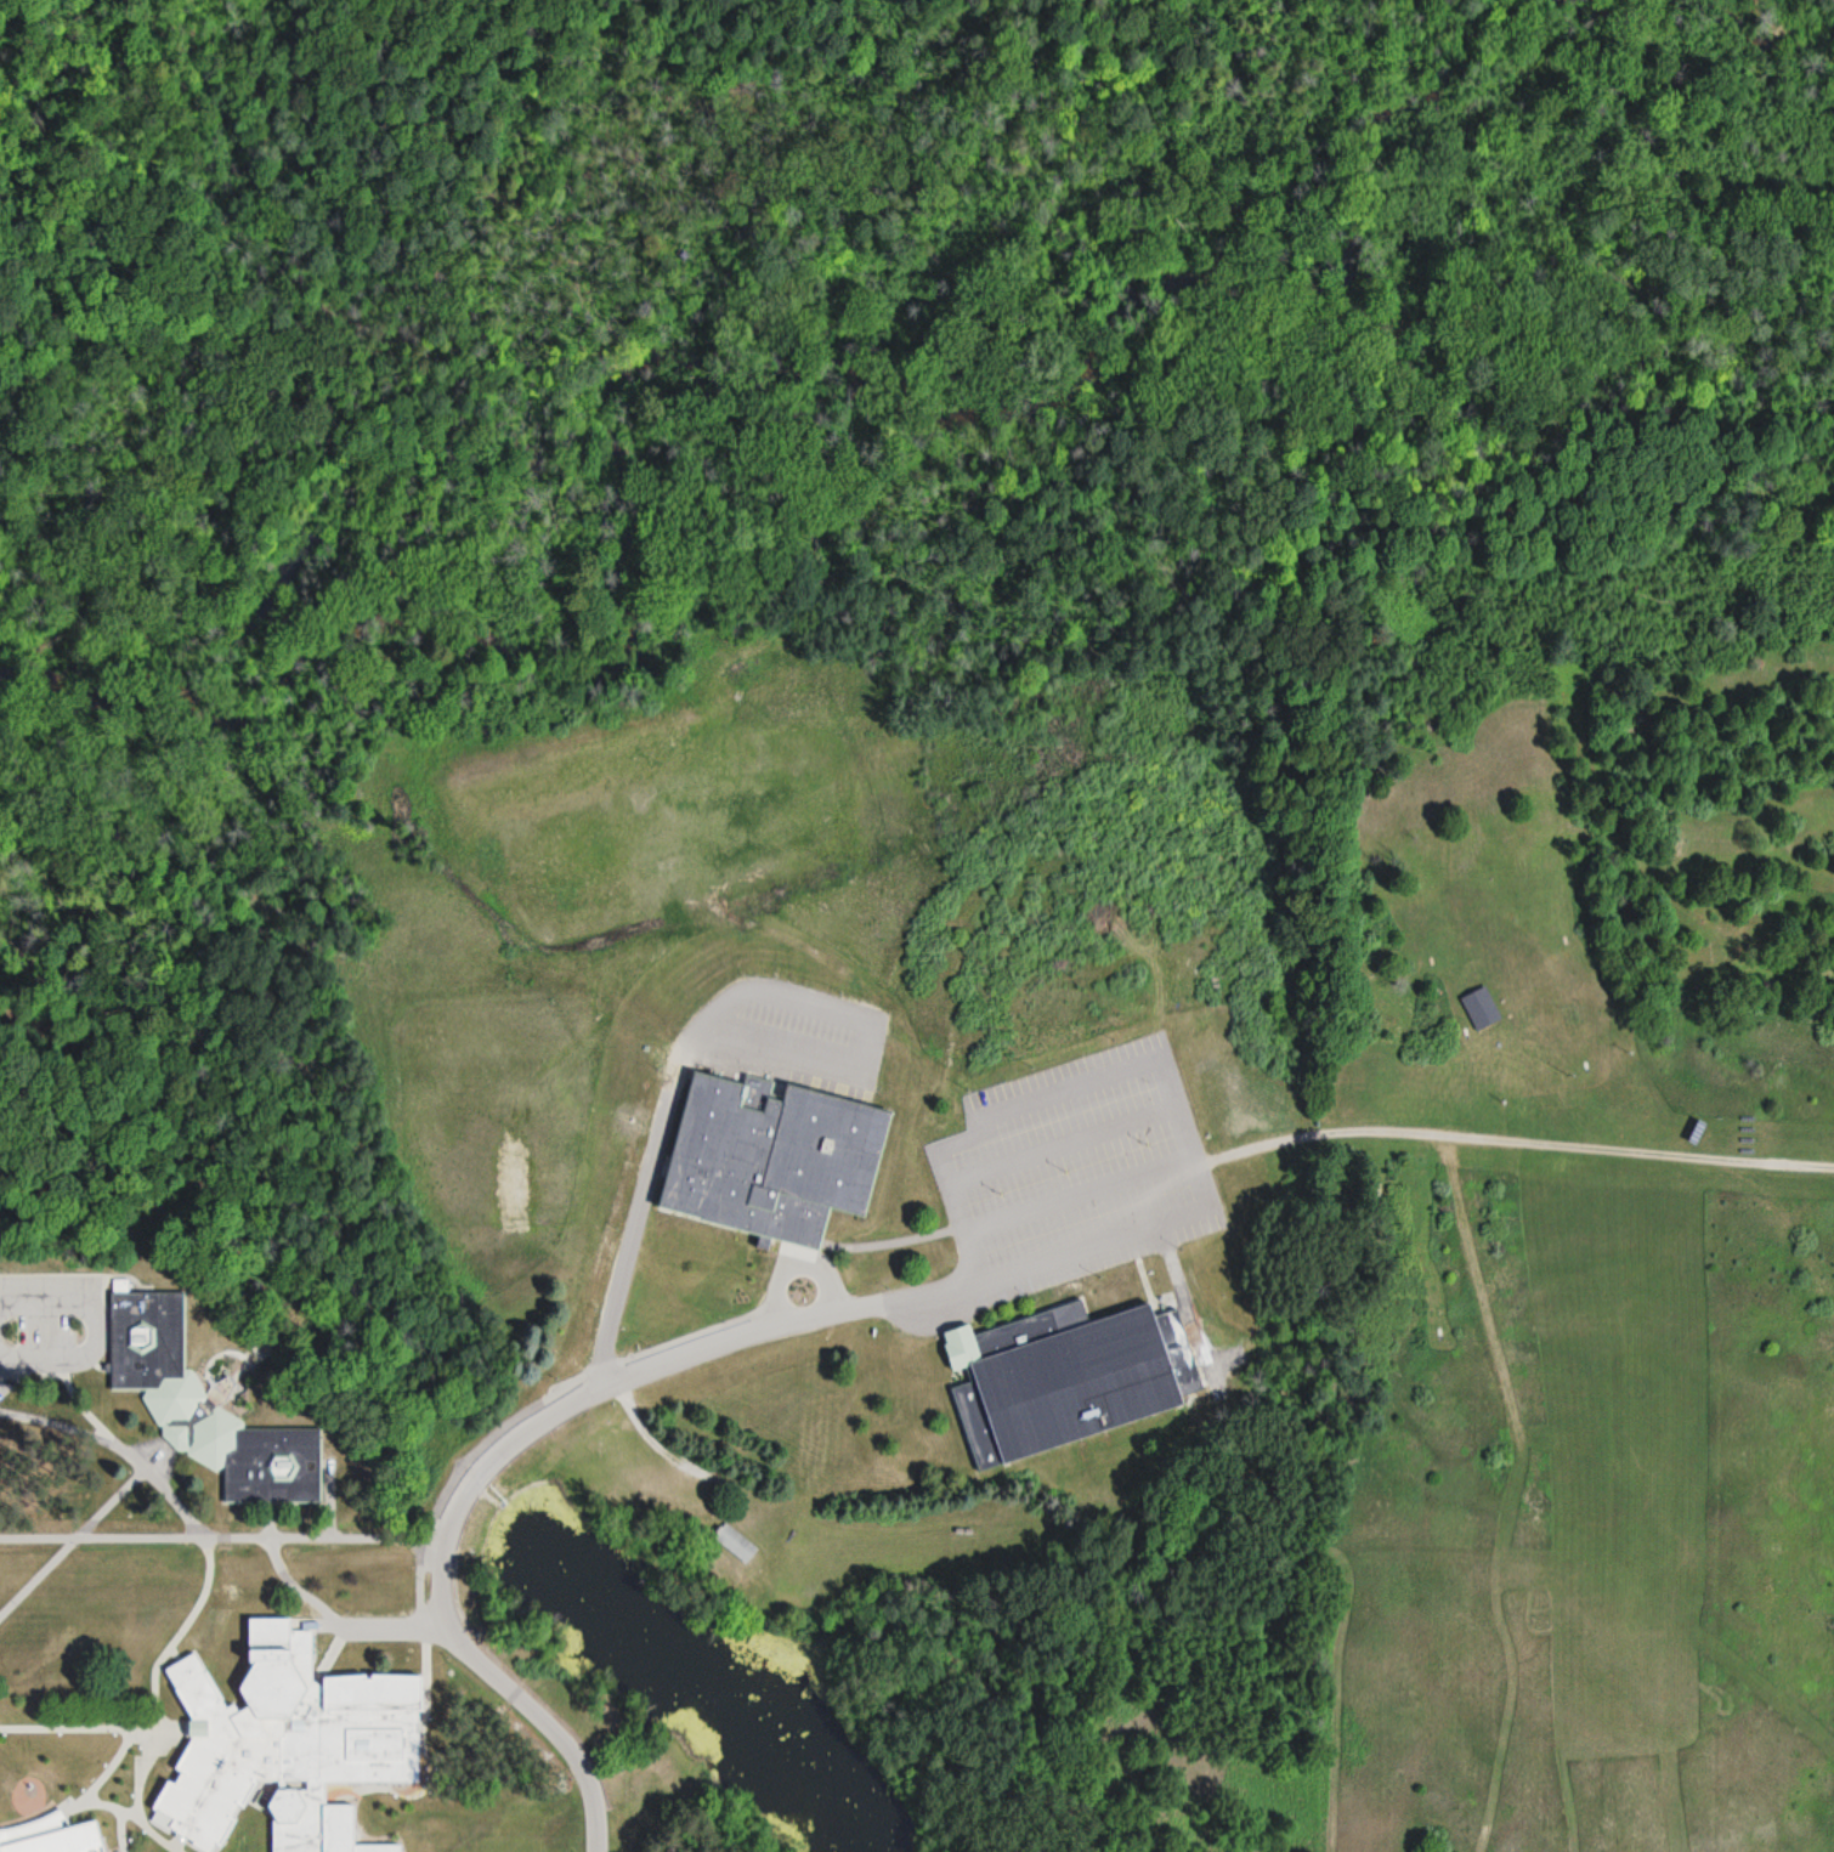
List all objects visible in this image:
building: (1479, 1009)
road: (864, 1040)
road: (1512, 1143)
building: (769, 1159)
parking lot: (1076, 1176)
road: (1161, 1220)
building: (1064, 1381)
building: (203, 1409)
road: (499, 1452)
building: (734, 1544)
building: (283, 1740)
building: (343, 1831)
building: (61, 1842)

